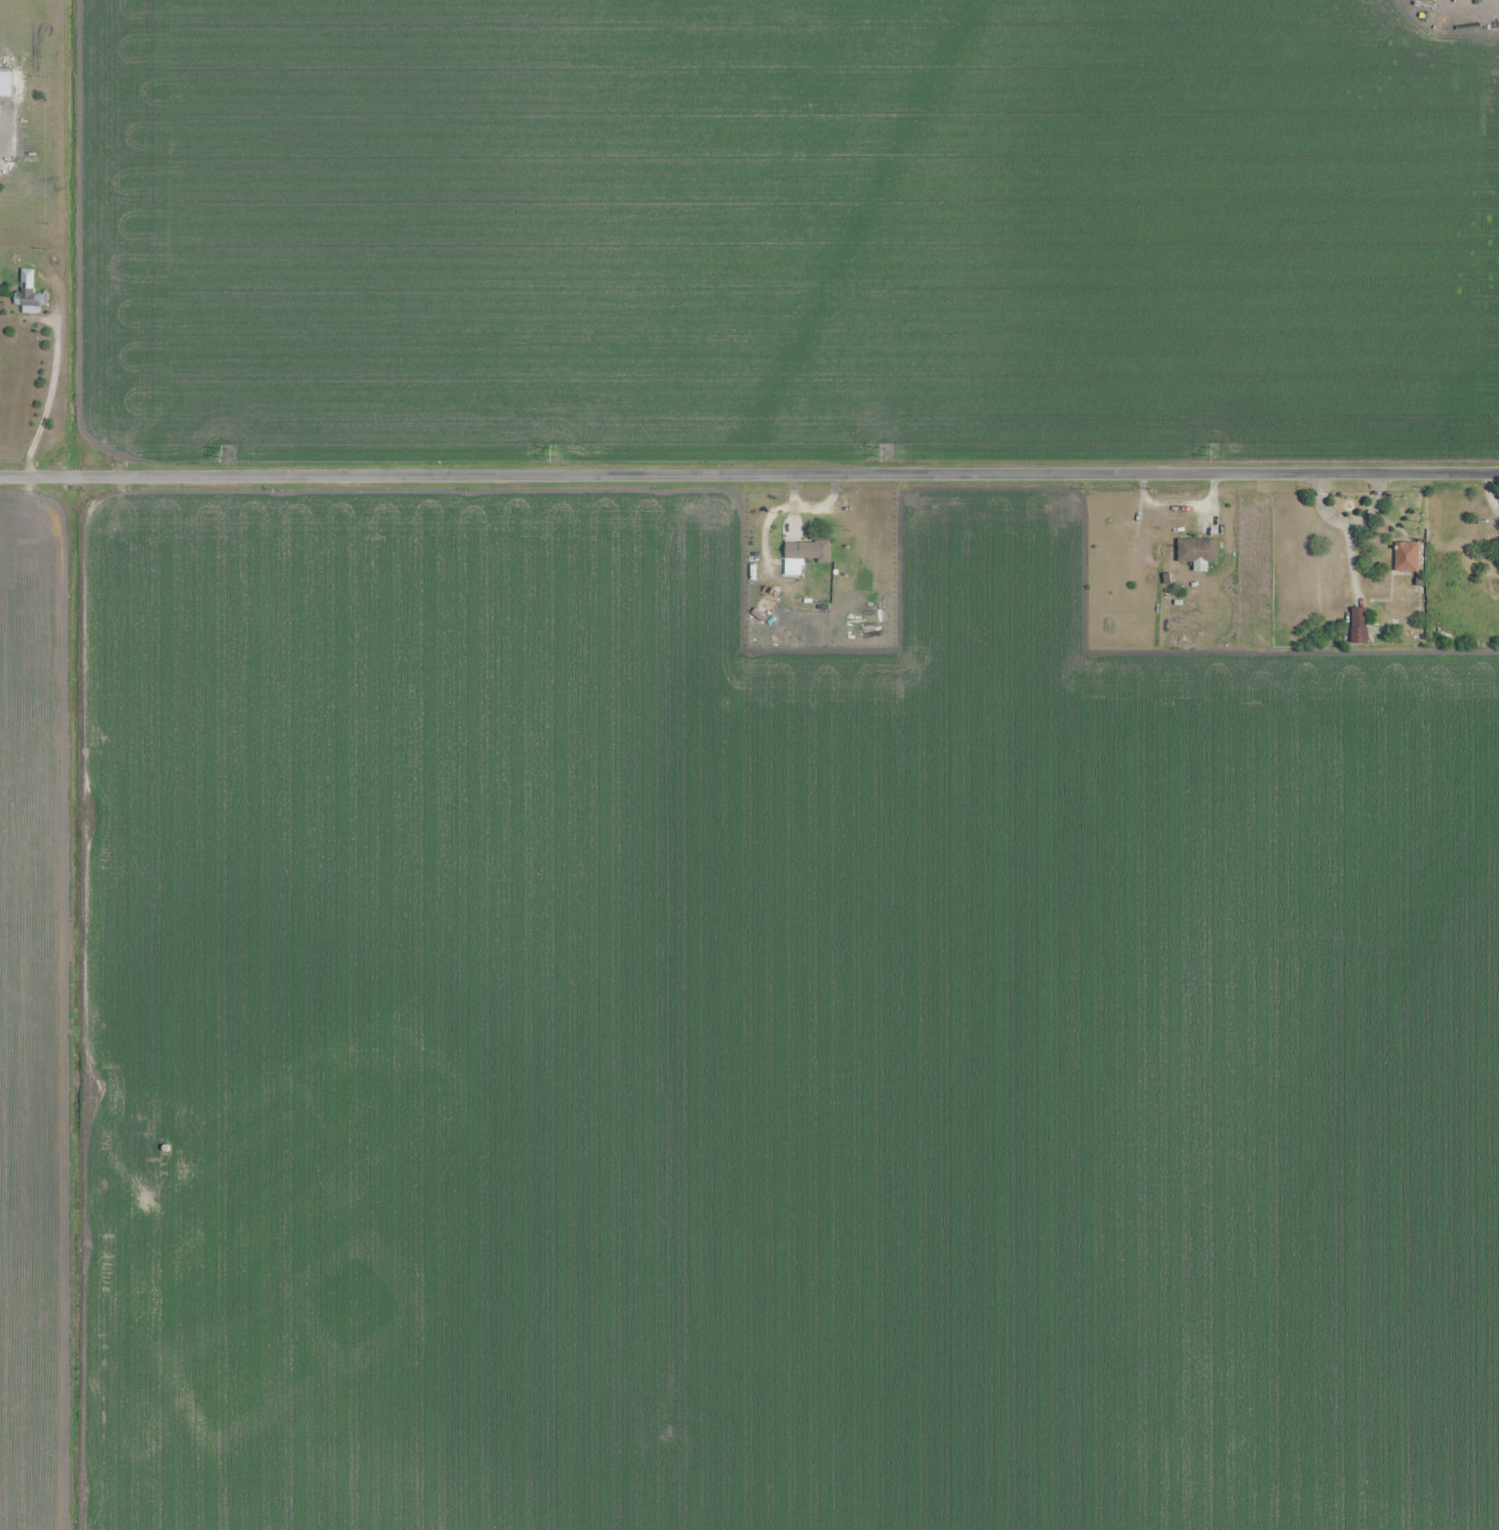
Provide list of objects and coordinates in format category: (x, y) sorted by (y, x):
building: (31, 299)
power tower: (554, 452)
power tower: (884, 452)
power tower: (1213, 452)
power tower: (225, 454)
road: (749, 474)
road: (1348, 521)
building: (808, 551)
building: (1198, 551)
building: (1406, 557)
building: (1359, 626)

